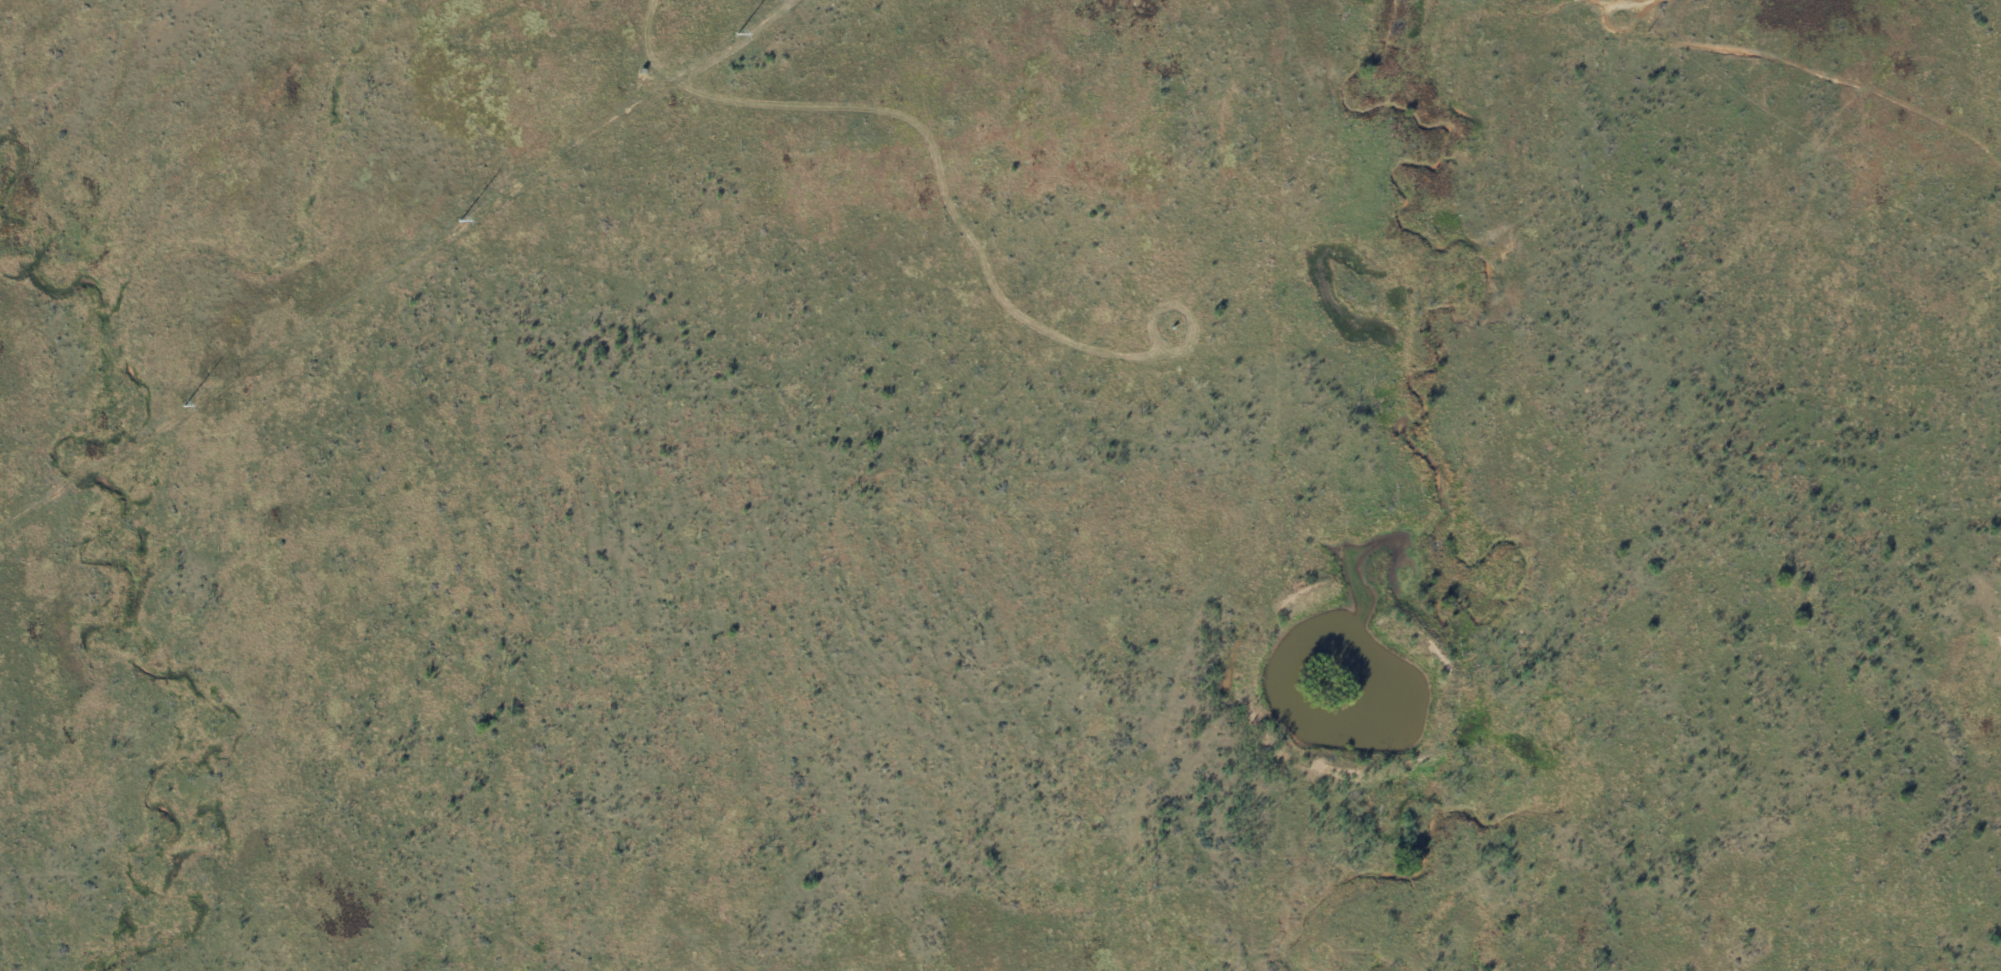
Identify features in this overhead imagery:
road: (1727, 28)

